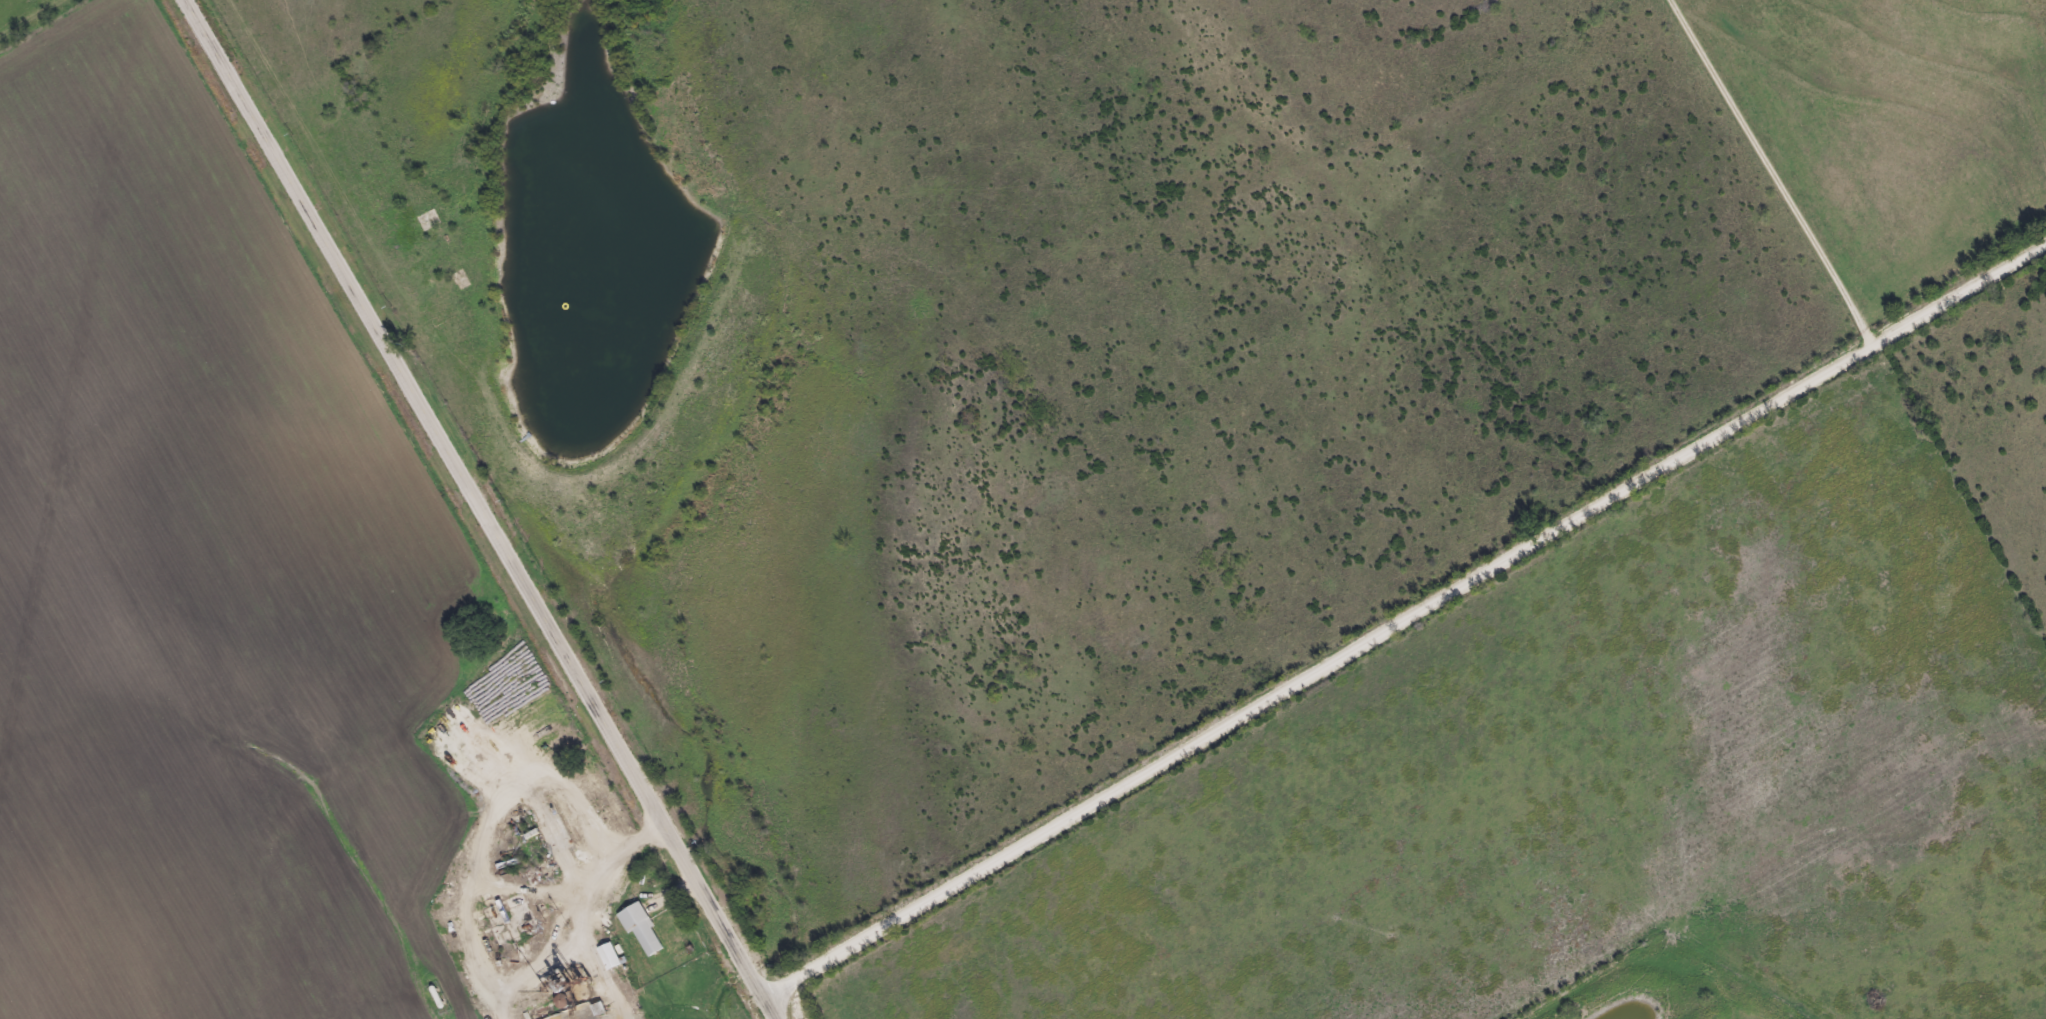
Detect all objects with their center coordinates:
building: (427, 217)
road: (478, 509)
road: (1405, 619)
building: (365, 847)
building: (642, 928)
building: (610, 955)
building: (574, 1009)

